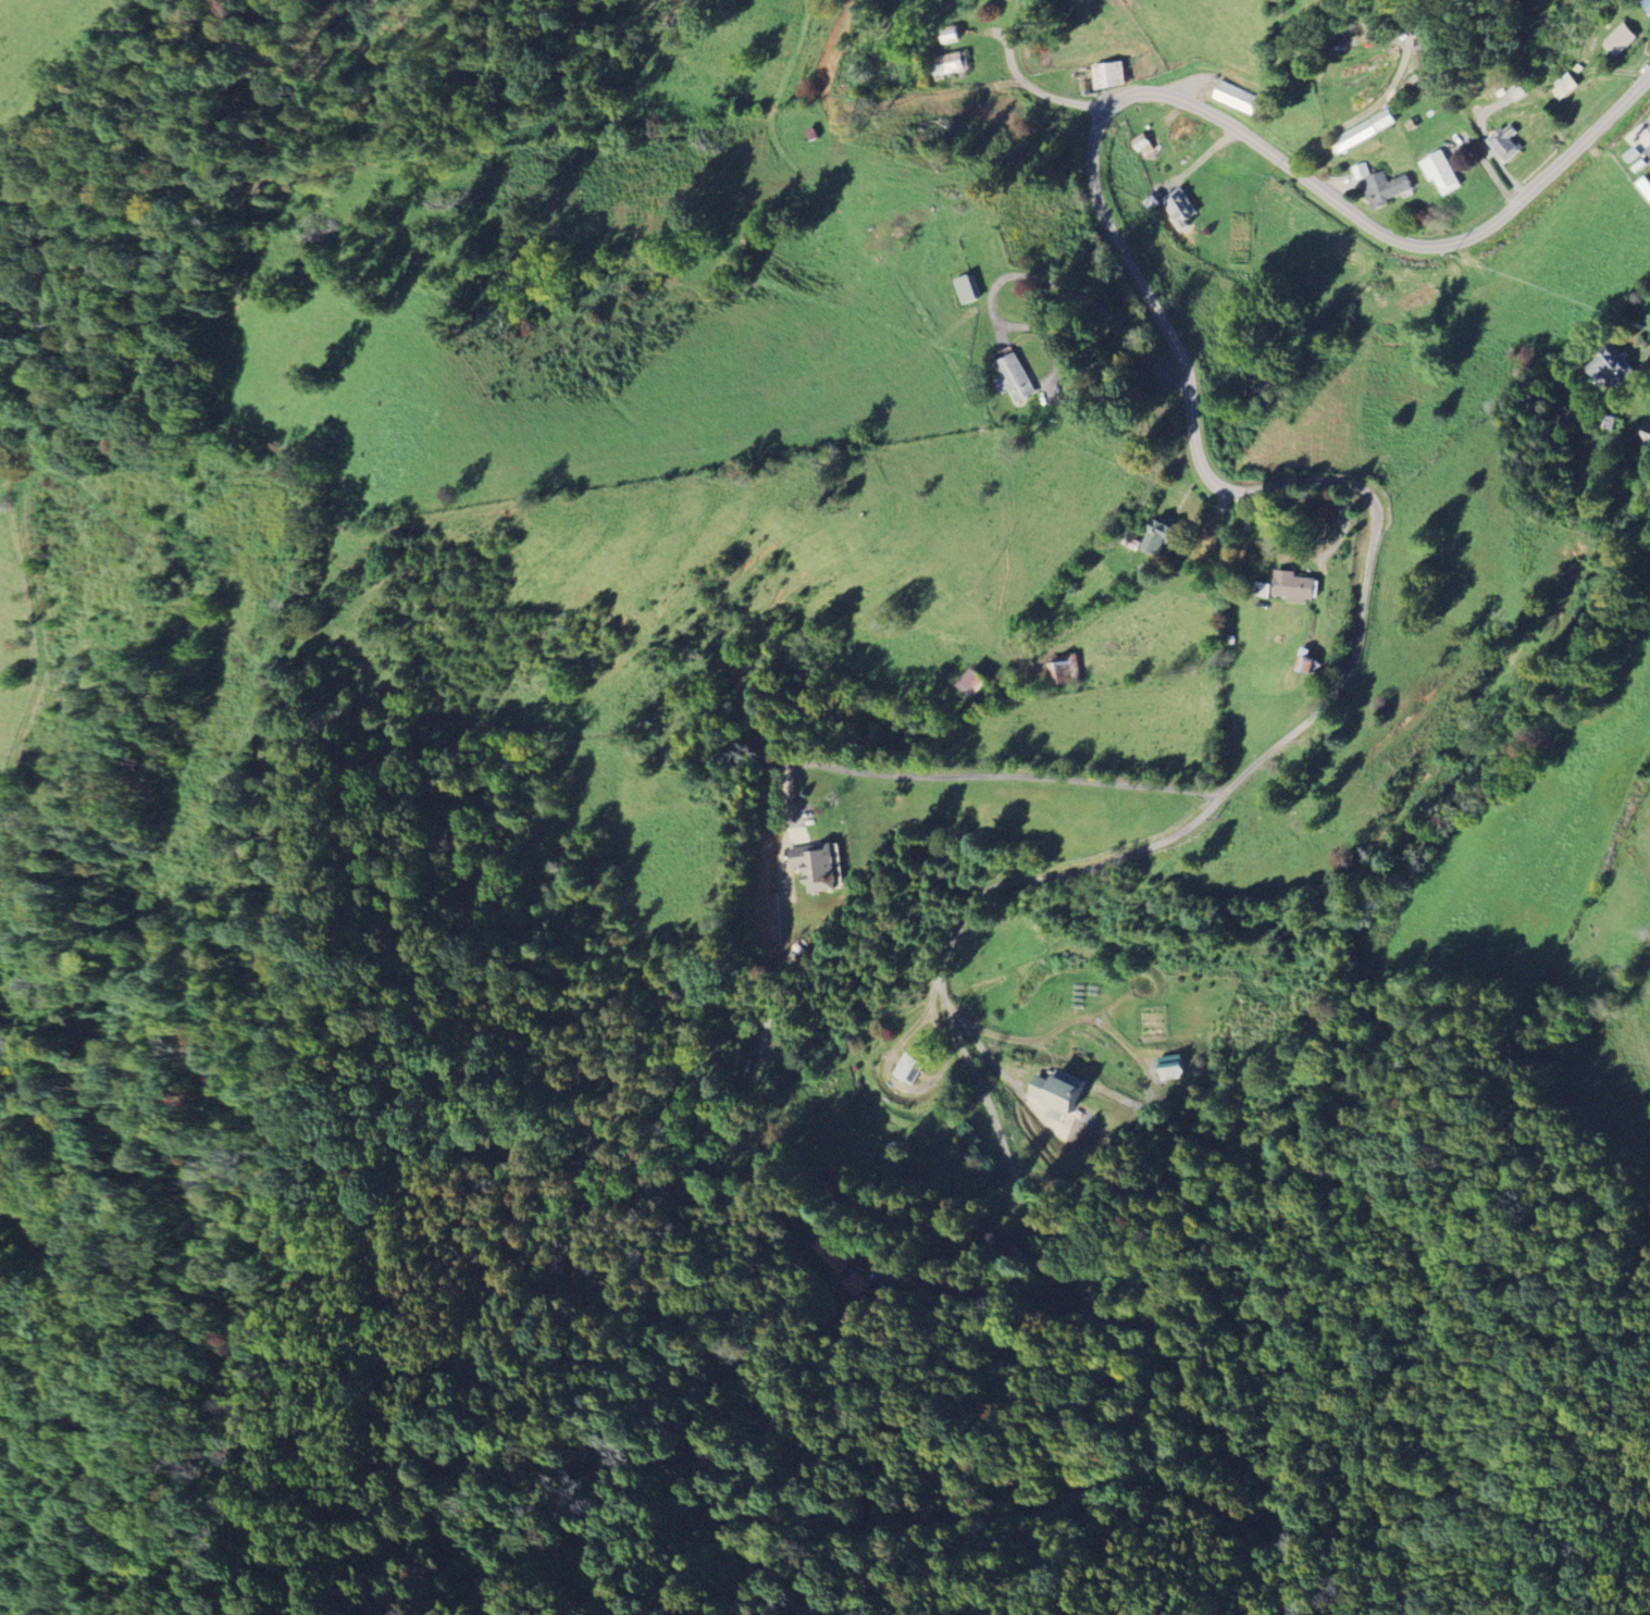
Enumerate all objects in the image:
building: (1647, 2)
building: (1622, 40)
building: (953, 62)
building: (1114, 76)
road: (1020, 78)
building: (1568, 88)
building: (1517, 92)
building: (1239, 98)
building: (1387, 120)
building: (1356, 137)
building: (1508, 142)
building: (1147, 147)
building: (1443, 173)
building: (1646, 185)
building: (1384, 186)
building: (1182, 210)
building: (968, 290)
building: (1621, 373)
building: (1016, 377)
road: (1192, 405)
building: (1305, 586)
building: (1074, 672)
building: (978, 684)
building: (820, 867)
road: (976, 1041)
building: (909, 1068)
building: (1178, 1068)
building: (1064, 1094)
road: (1025, 1207)
building: (835, 1253)
building: (857, 1284)

